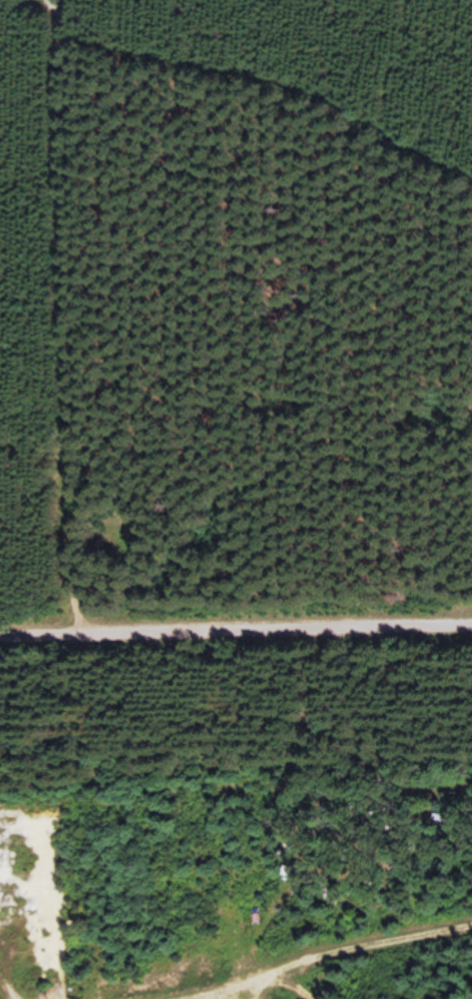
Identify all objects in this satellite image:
road: (236, 636)

